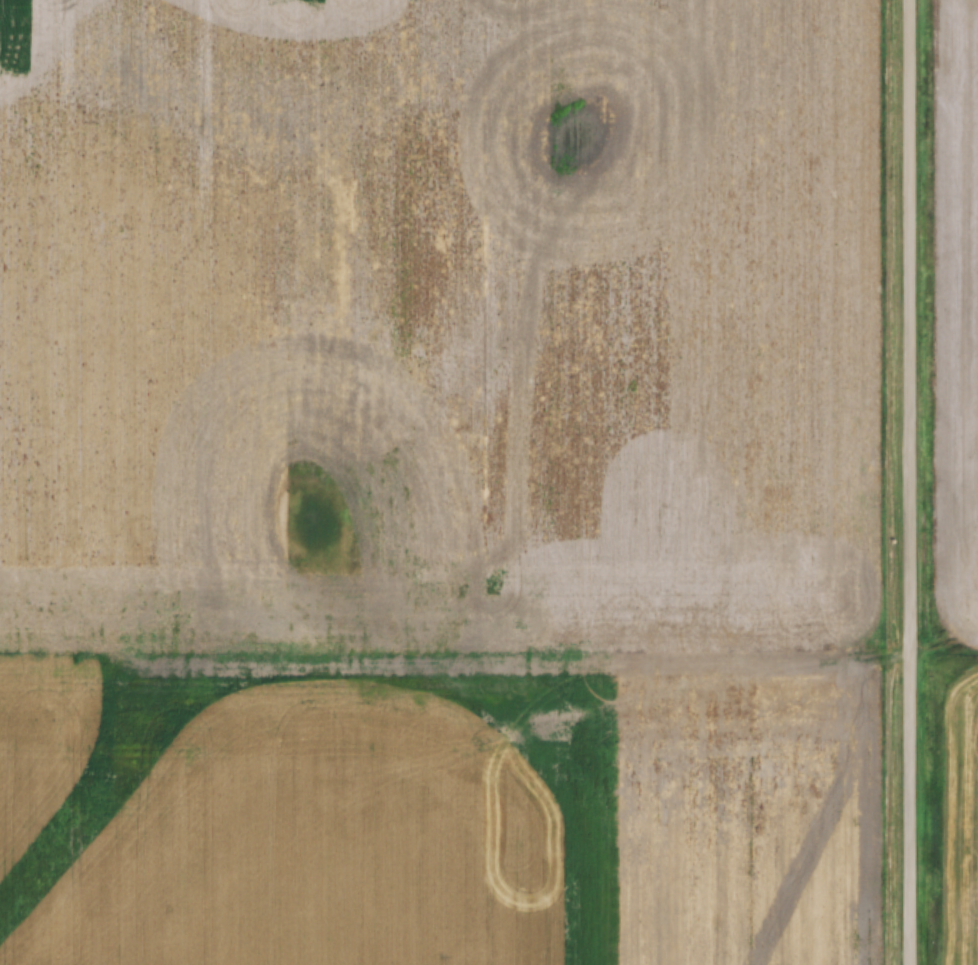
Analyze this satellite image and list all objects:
road: (912, 482)

